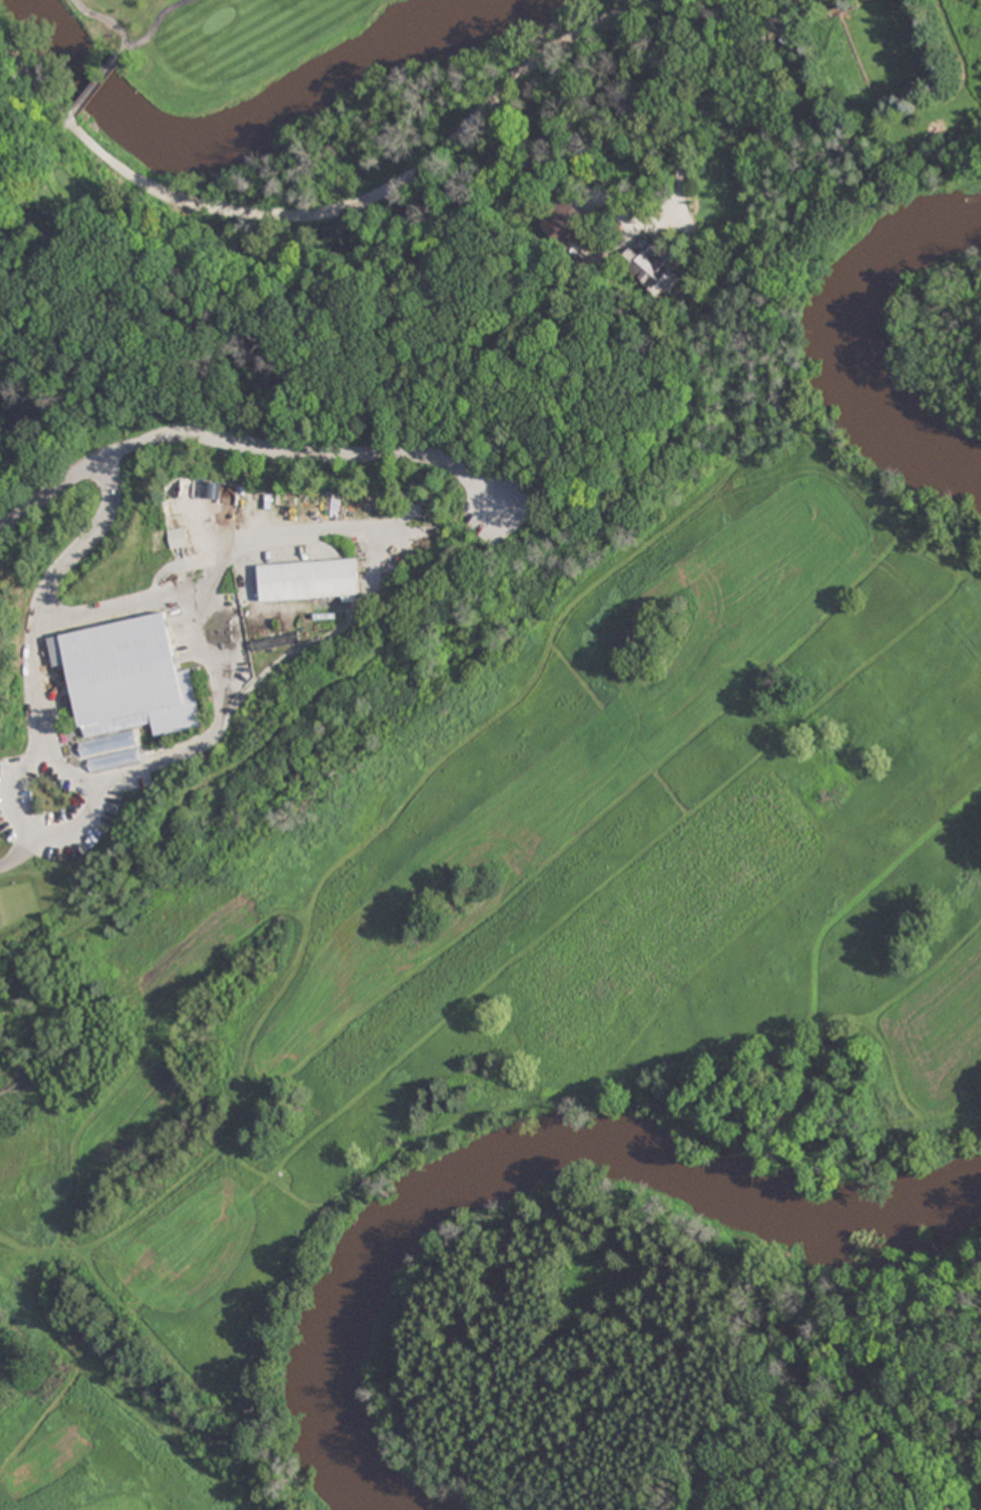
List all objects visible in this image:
road: (122, 34)
road: (97, 82)
road: (714, 95)
river: (260, 131)
road: (320, 212)
building: (567, 216)
building: (653, 267)
river: (849, 339)
road: (247, 446)
building: (177, 538)
building: (309, 579)
park: (442, 652)
building: (126, 676)
road: (119, 773)
river: (518, 1153)

